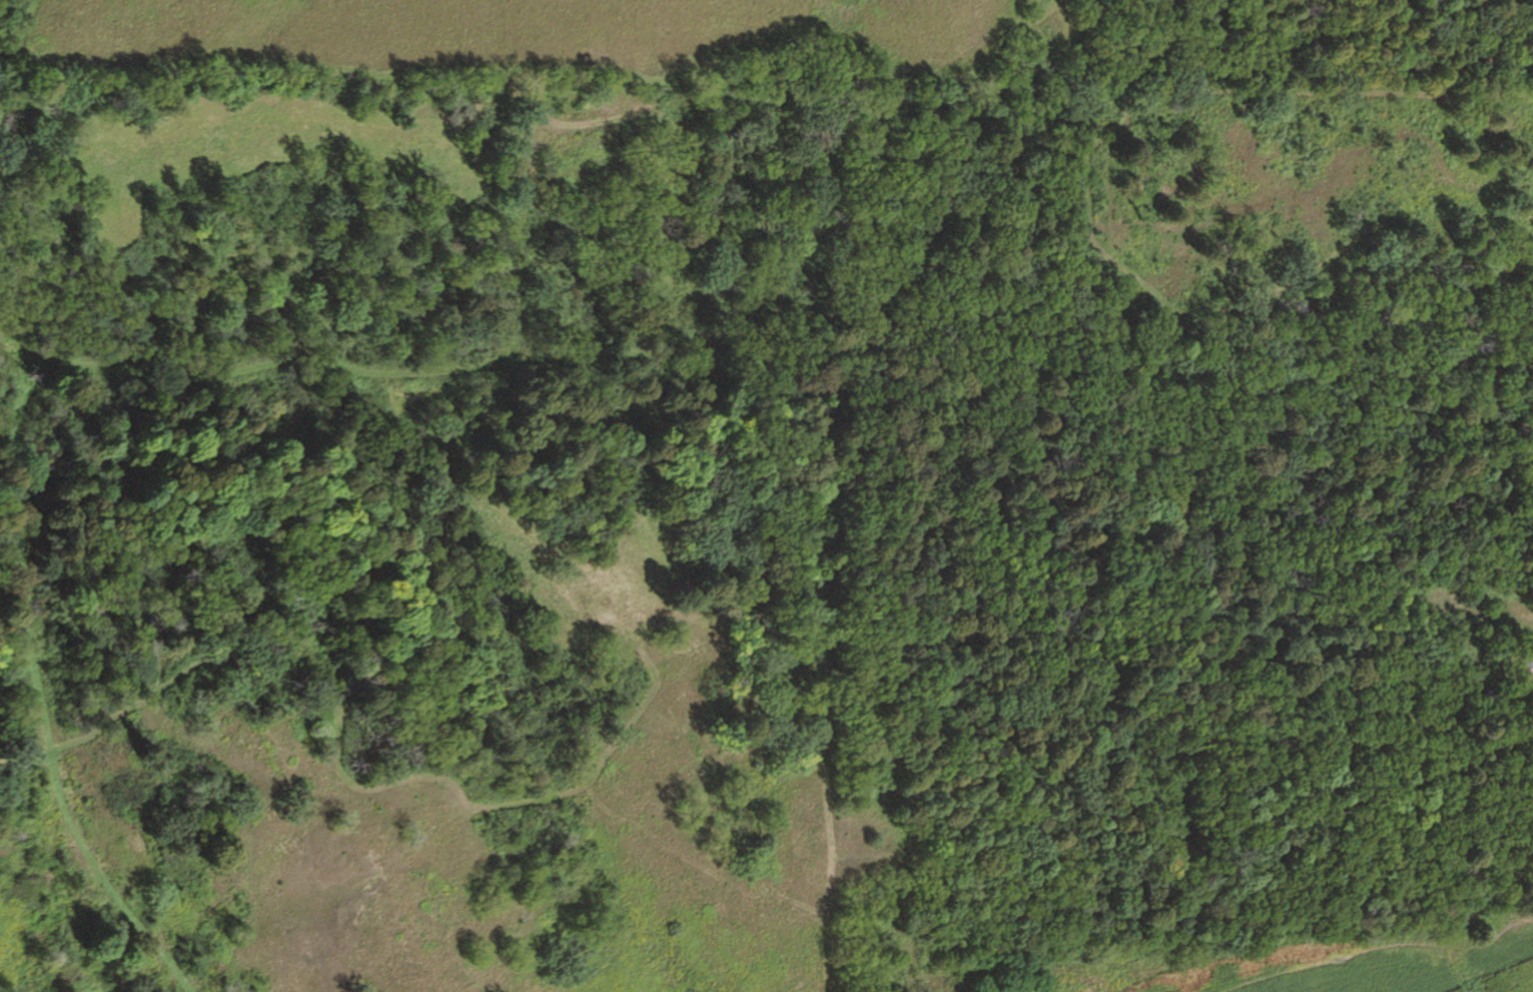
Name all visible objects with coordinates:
road: (1454, 51)
building: (1490, 695)

